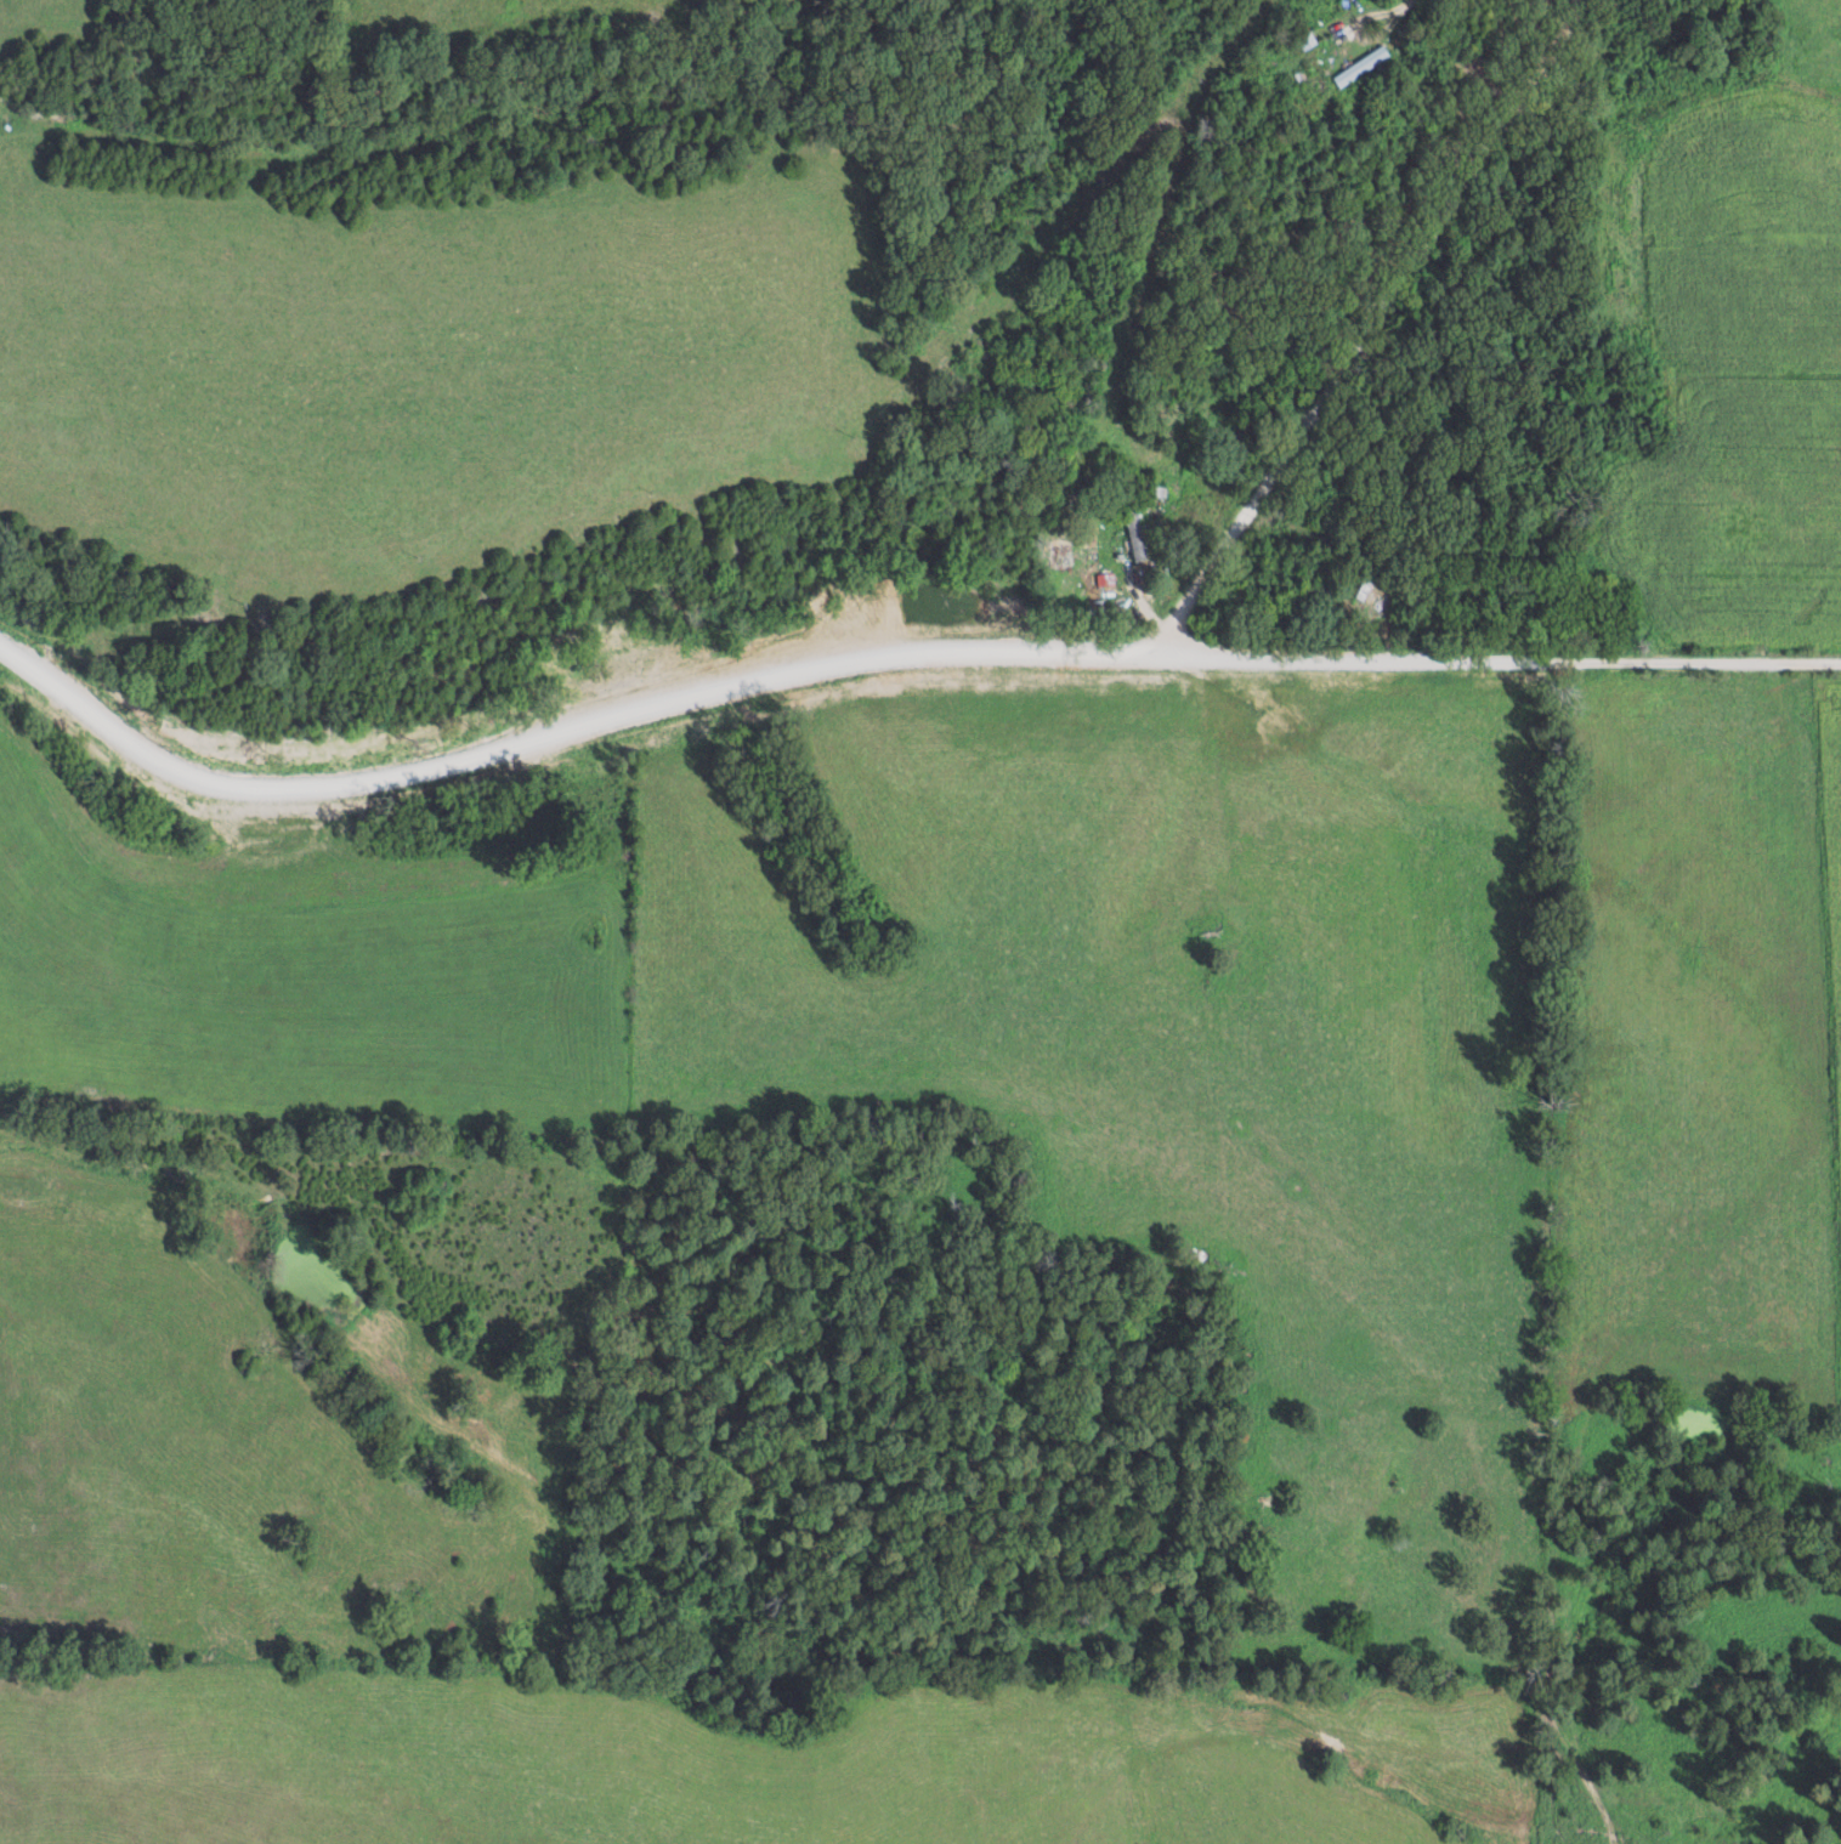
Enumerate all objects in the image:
road: (1412, 5)
road: (1358, 22)
building: (1359, 66)
road: (1128, 555)
road: (1041, 590)
road: (930, 640)
road: (1466, 654)

